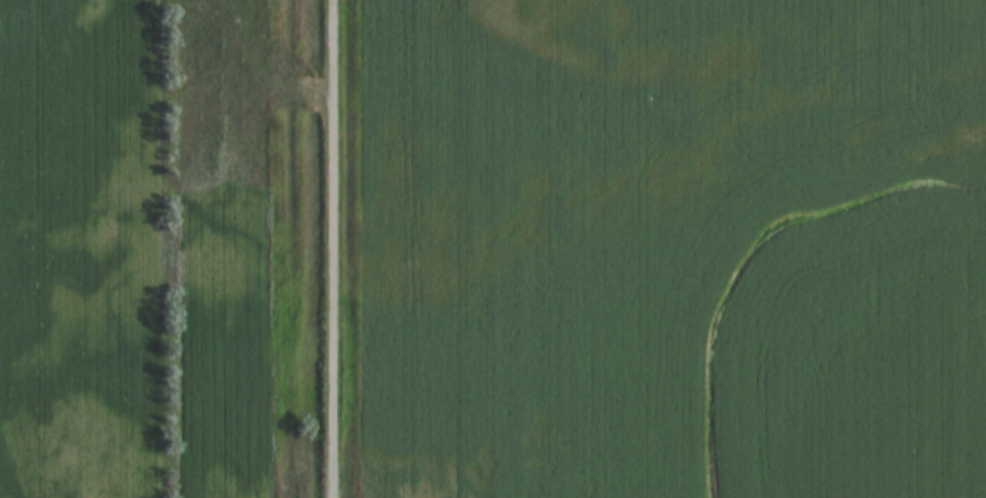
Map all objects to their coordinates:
road: (334, 249)

